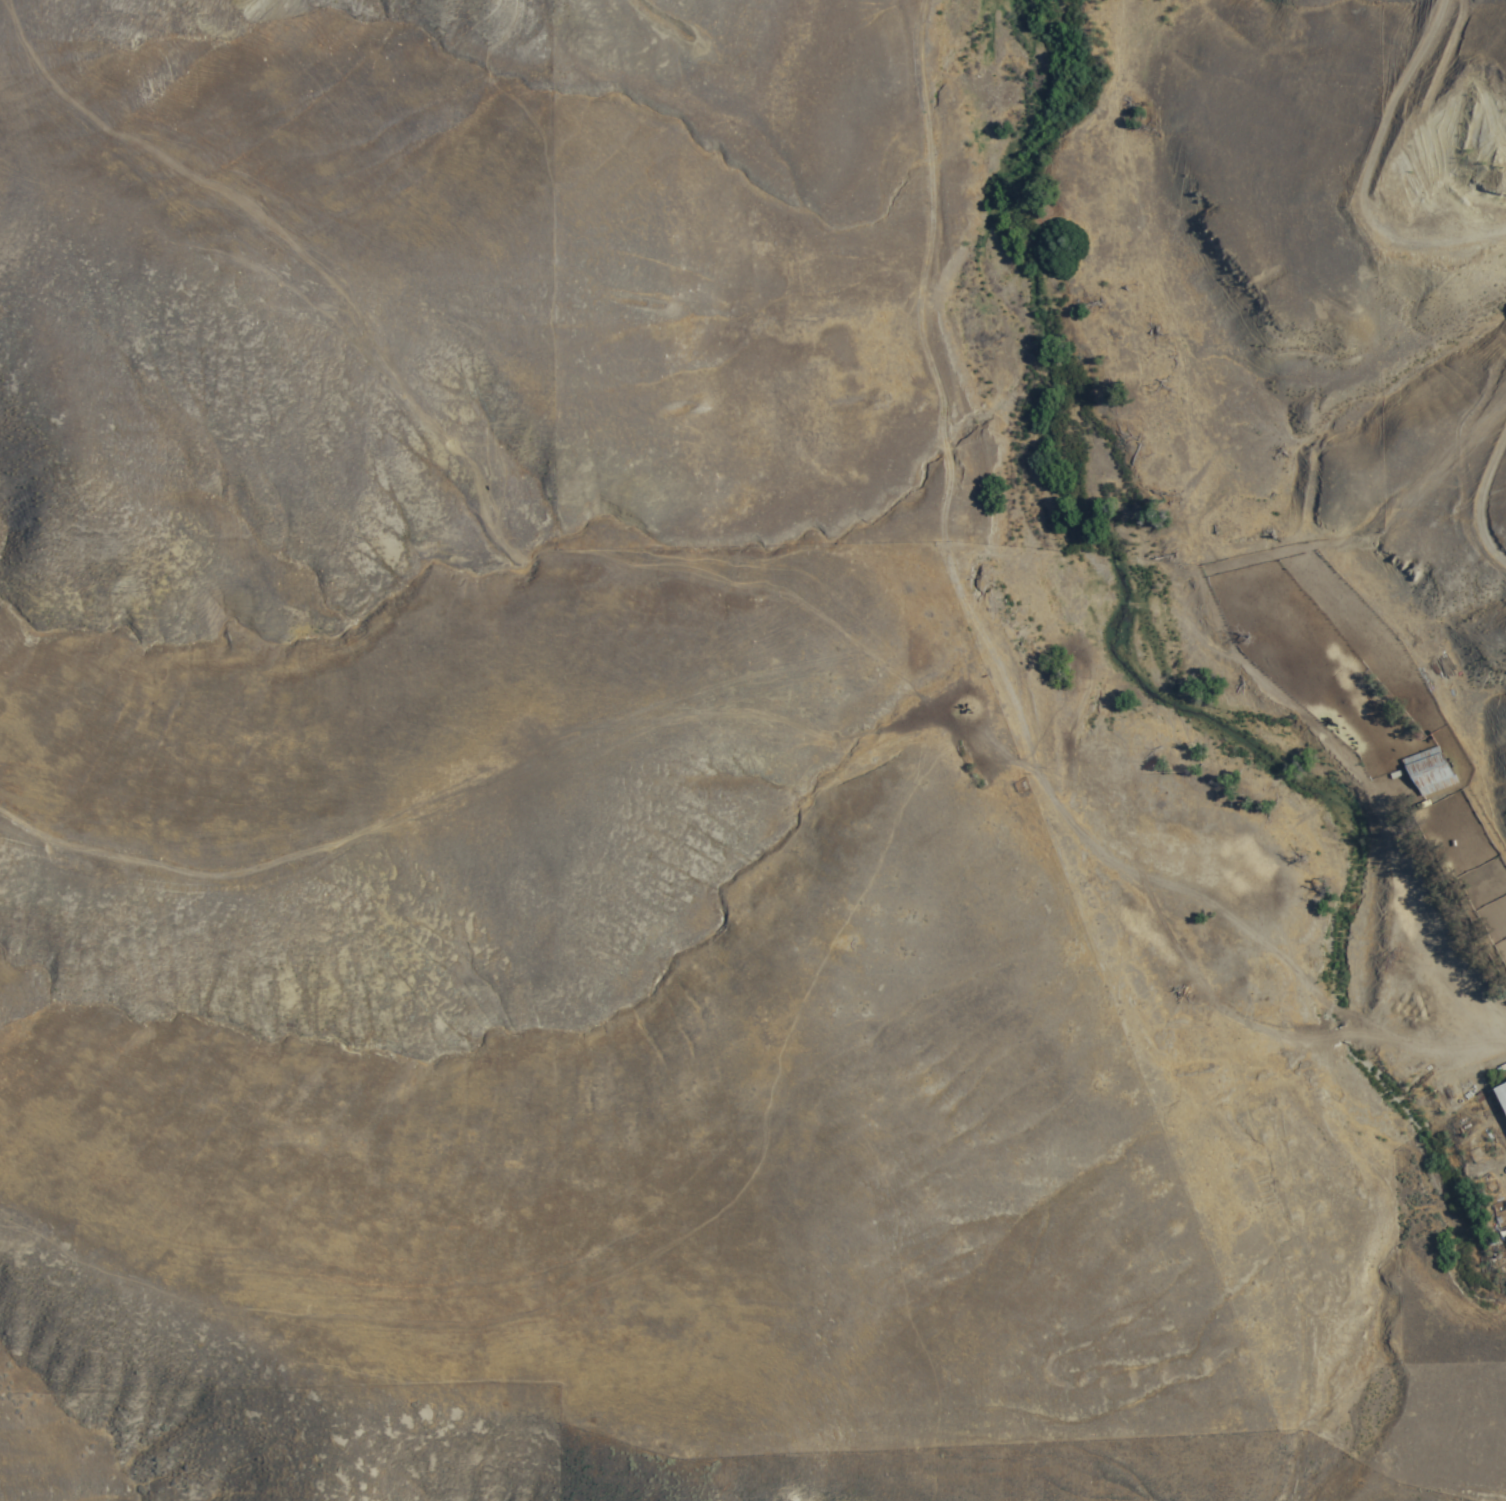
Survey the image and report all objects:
road: (1019, 676)
building: (1428, 771)
building: (1501, 1095)

